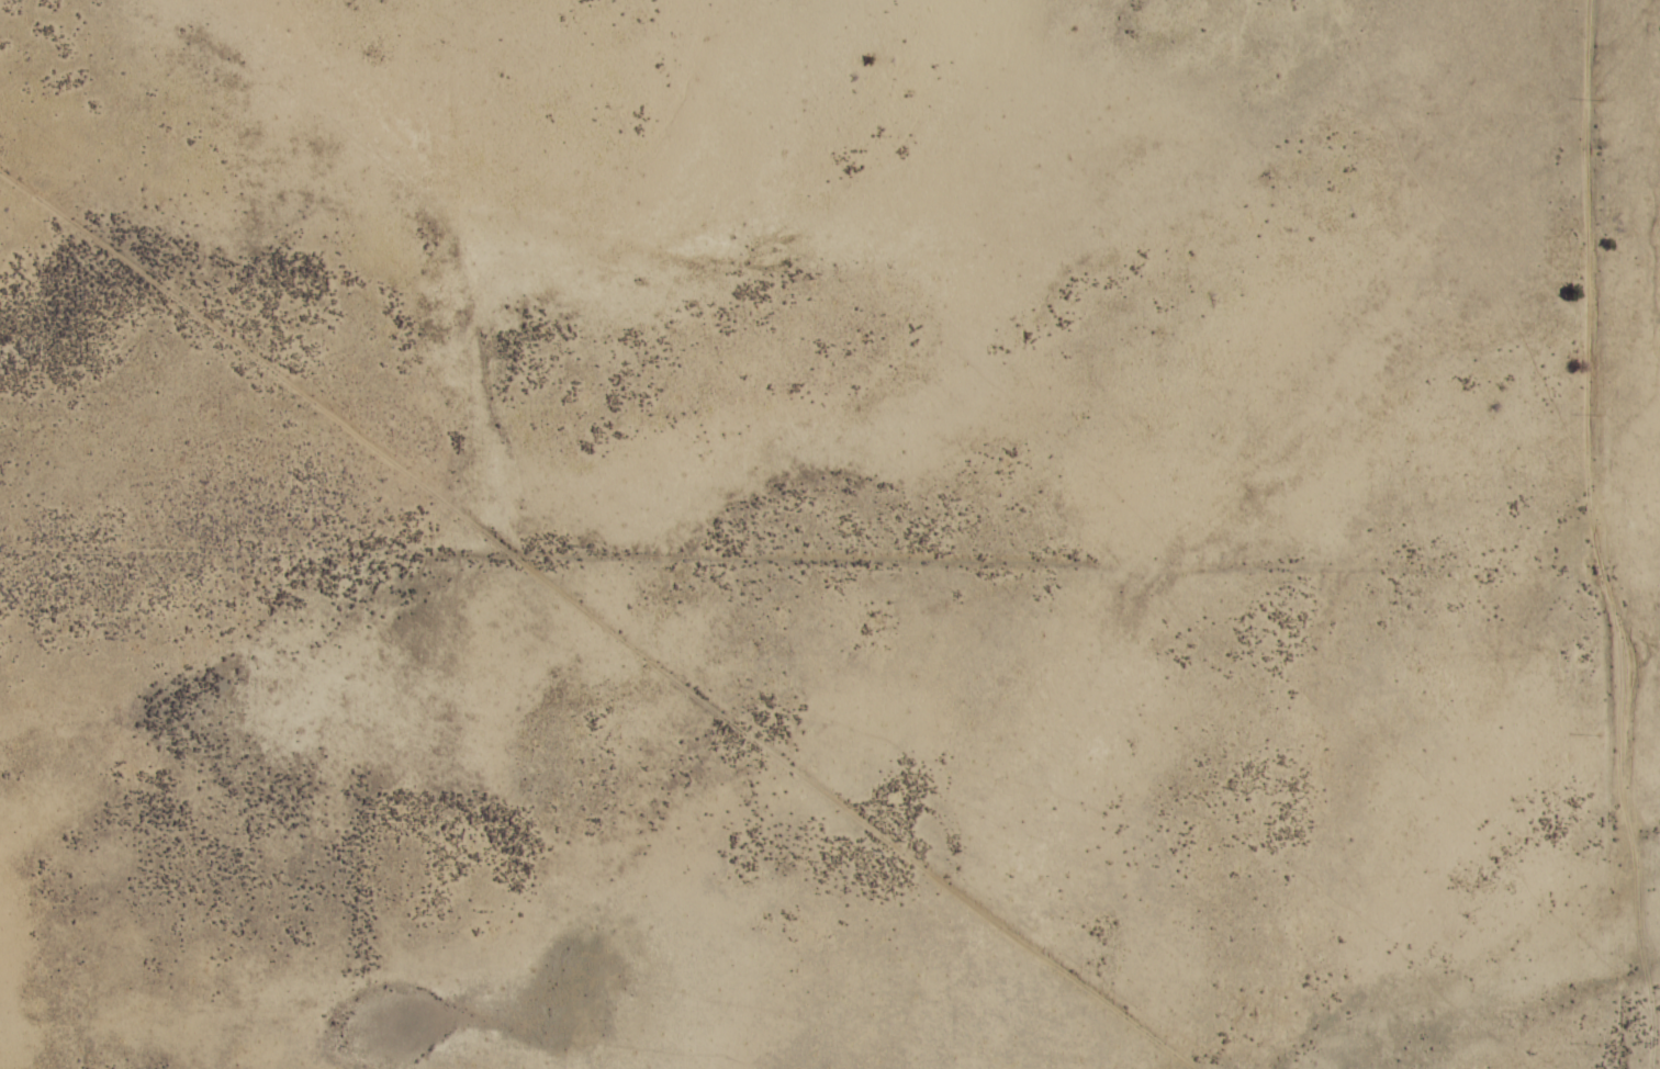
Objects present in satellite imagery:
road: (657, 656)

